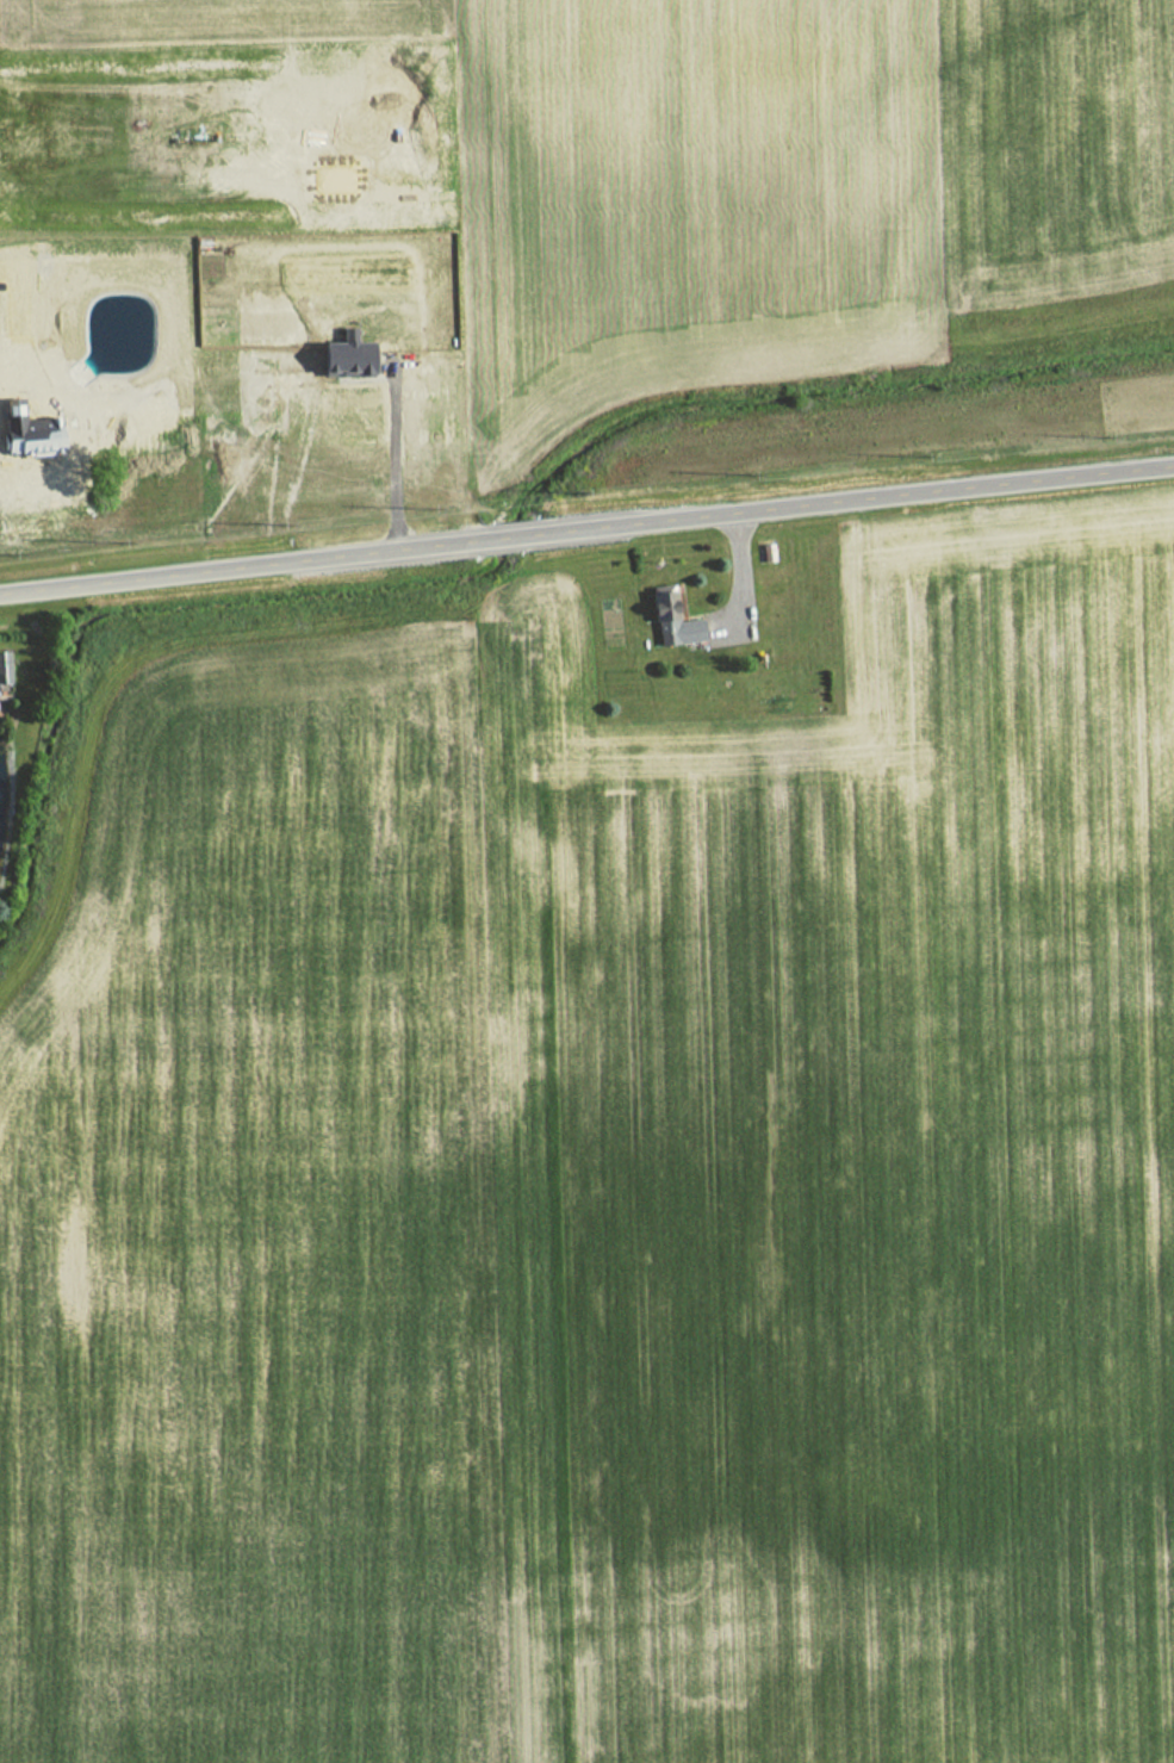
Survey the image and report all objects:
crop: (784, 181)
road: (389, 460)
road: (586, 529)
crop: (603, 1193)

